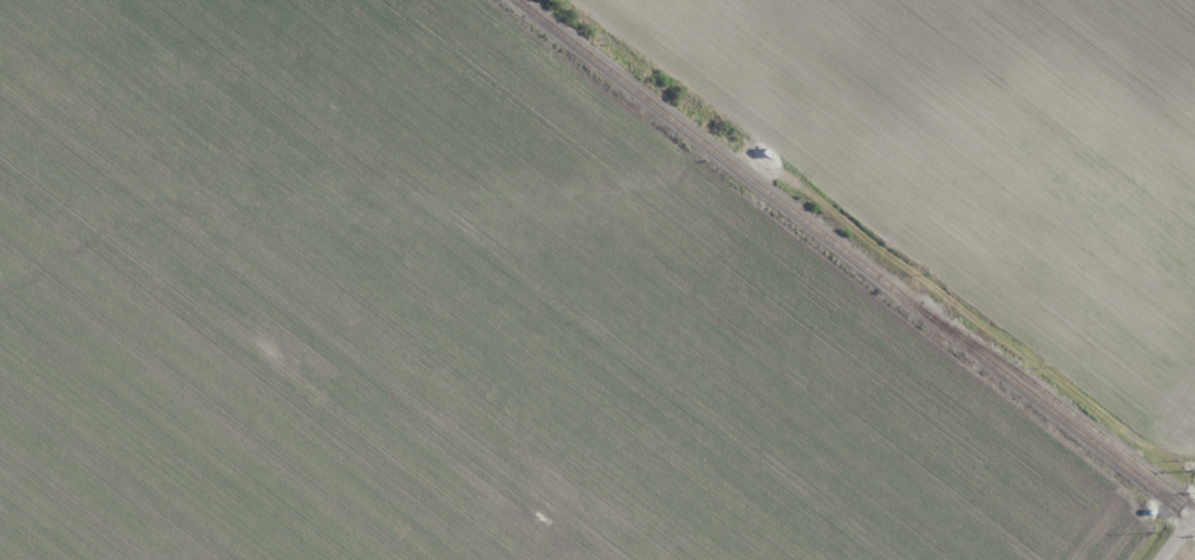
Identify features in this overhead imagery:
crop: (987, 160)
railway: (853, 261)
crop: (447, 320)
railway: (1052, 397)
road: (1193, 520)
road: (1178, 536)

